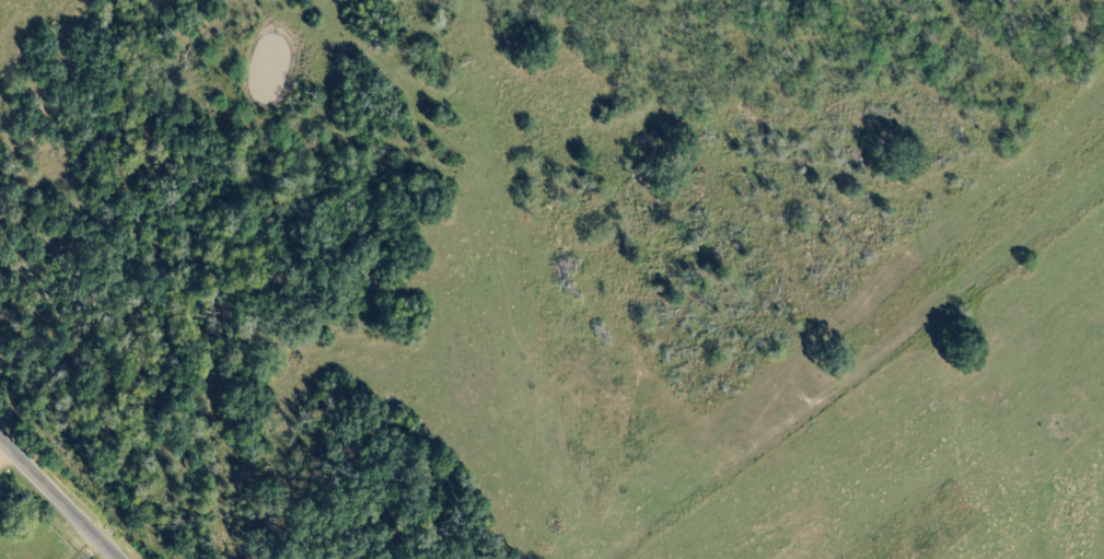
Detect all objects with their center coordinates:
road: (884, 295)
road: (65, 494)

